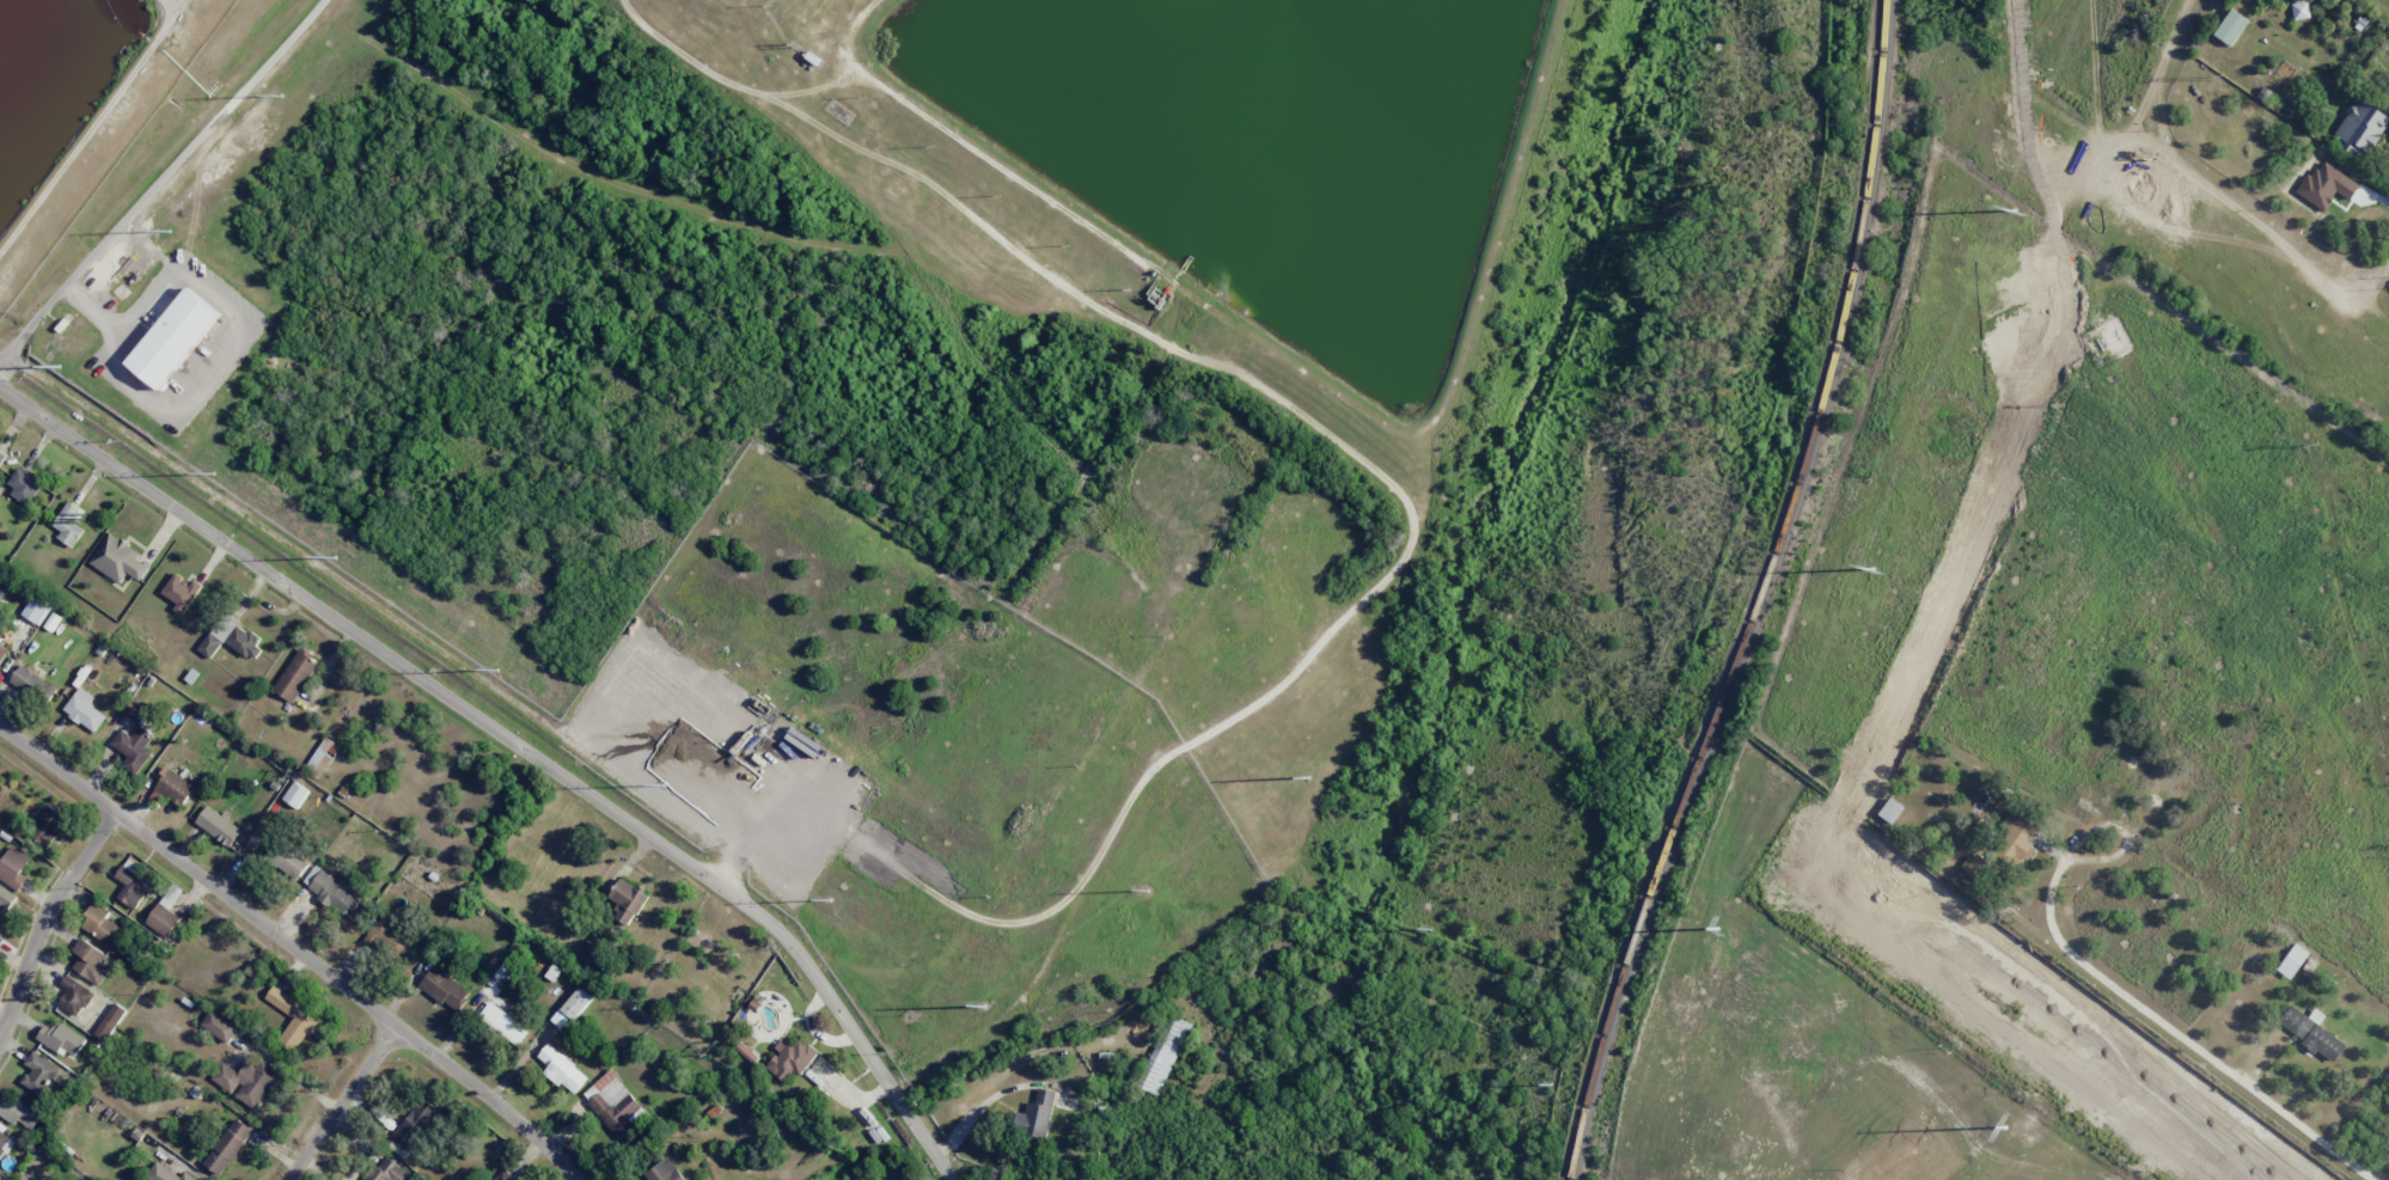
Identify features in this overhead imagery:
building: (2299, 10)
building: (2230, 27)
power tower: (762, 59)
power tower: (2214, 75)
building: (2360, 128)
power tower: (2012, 210)
power tower: (972, 334)
building: (173, 338)
power tower: (2311, 445)
building: (24, 484)
building: (69, 524)
building: (118, 558)
power tower: (1870, 570)
building: (181, 591)
railway: (1753, 595)
building: (35, 609)
power tower: (1184, 610)
building: (244, 641)
building: (210, 644)
building: (2, 652)
building: (295, 675)
building: (33, 684)
building: (85, 710)
building: (136, 710)
road: (515, 742)
building: (133, 748)
building: (324, 754)
building: (175, 787)
building: (295, 795)
power tower: (1324, 795)
building: (48, 826)
building: (218, 826)
building: (2017, 839)
building: (291, 862)
building: (1974, 866)
building: (13, 868)
building: (130, 887)
building: (331, 889)
building: (171, 897)
building: (5, 899)
building: (627, 900)
road: (41, 919)
building: (163, 919)
building: (102, 924)
power tower: (1713, 930)
building: (389, 940)
building: (0, 941)
road: (293, 949)
building: (2292, 960)
building: (92, 961)
building: (445, 989)
building: (75, 995)
building: (576, 1003)
road: (2051, 1010)
building: (560, 1017)
building: (293, 1019)
building: (110, 1022)
building: (503, 1023)
building: (219, 1026)
building: (2311, 1032)
building: (62, 1039)
building: (1163, 1054)
building: (792, 1058)
building: (562, 1069)
building: (42, 1075)
building: (248, 1081)
building: (612, 1102)
road: (342, 1103)
building: (18, 1111)
building: (1035, 1114)
building: (416, 1125)
power tower: (2006, 1129)
building: (4, 1144)
building: (228, 1147)
building: (387, 1170)
building: (664, 1172)
building: (166, 1173)
building: (503, 1176)

